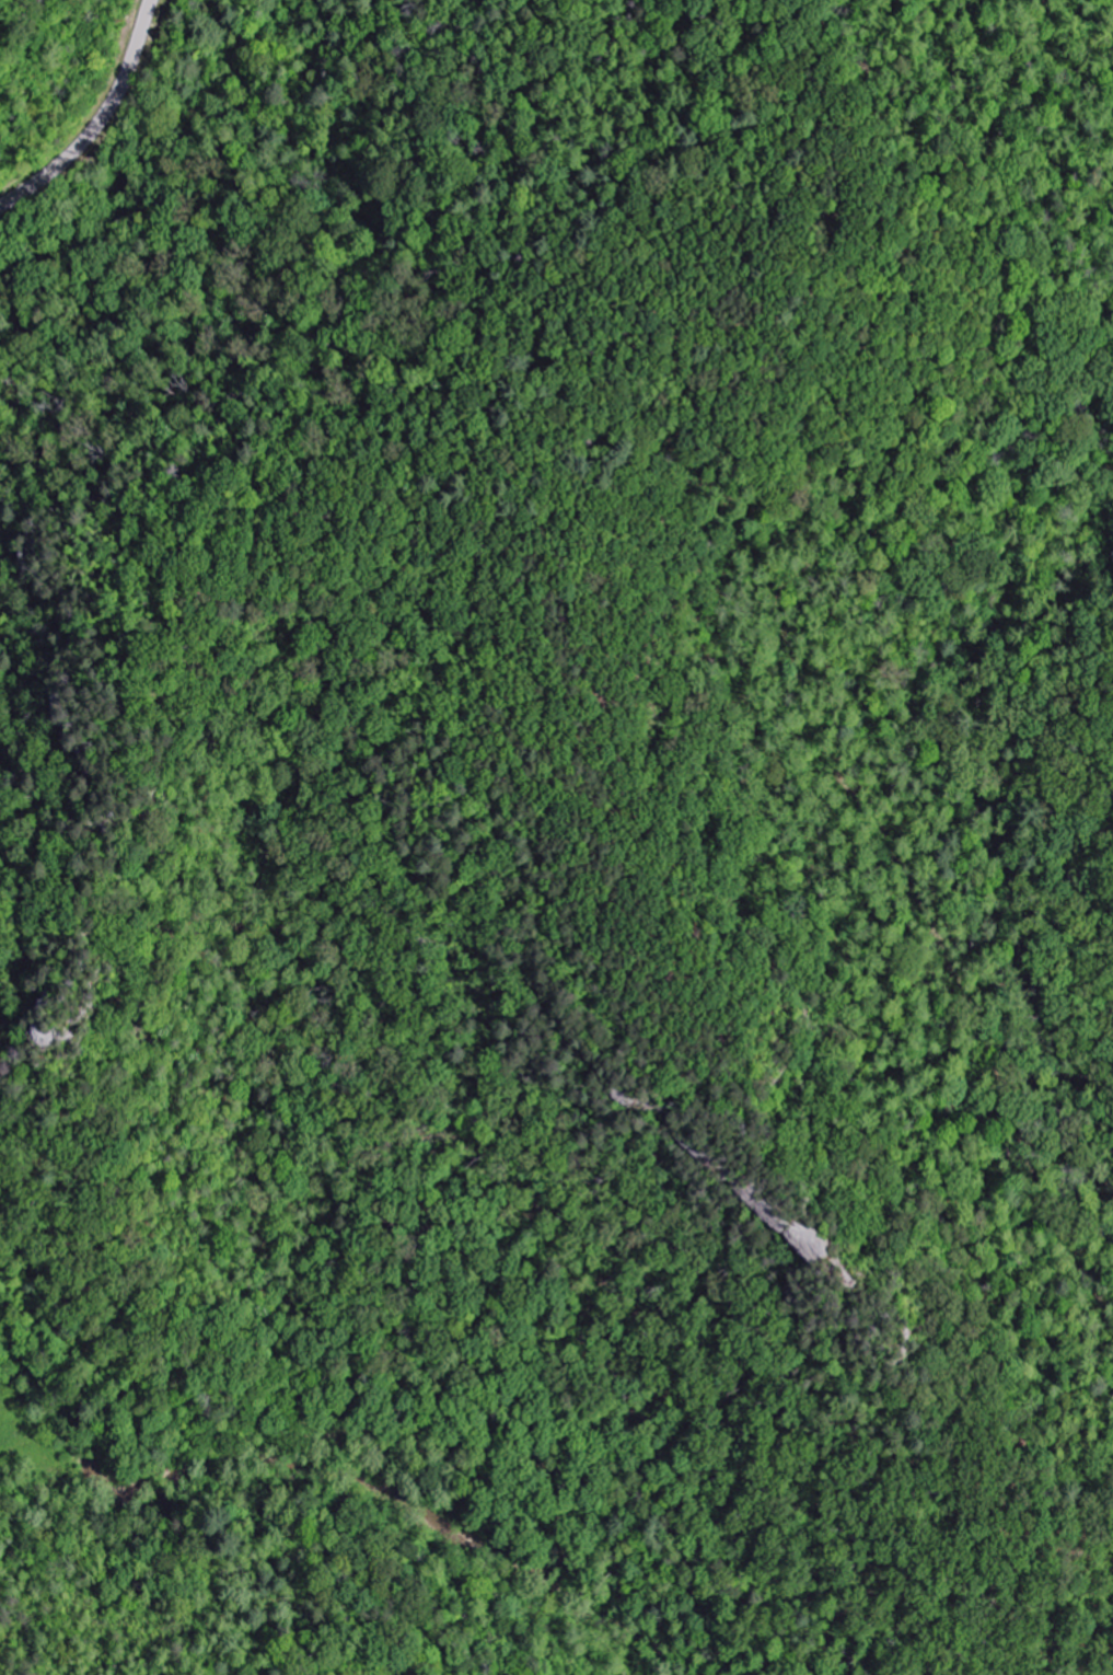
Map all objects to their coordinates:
road: (100, 122)
road: (802, 666)
road: (486, 1407)

